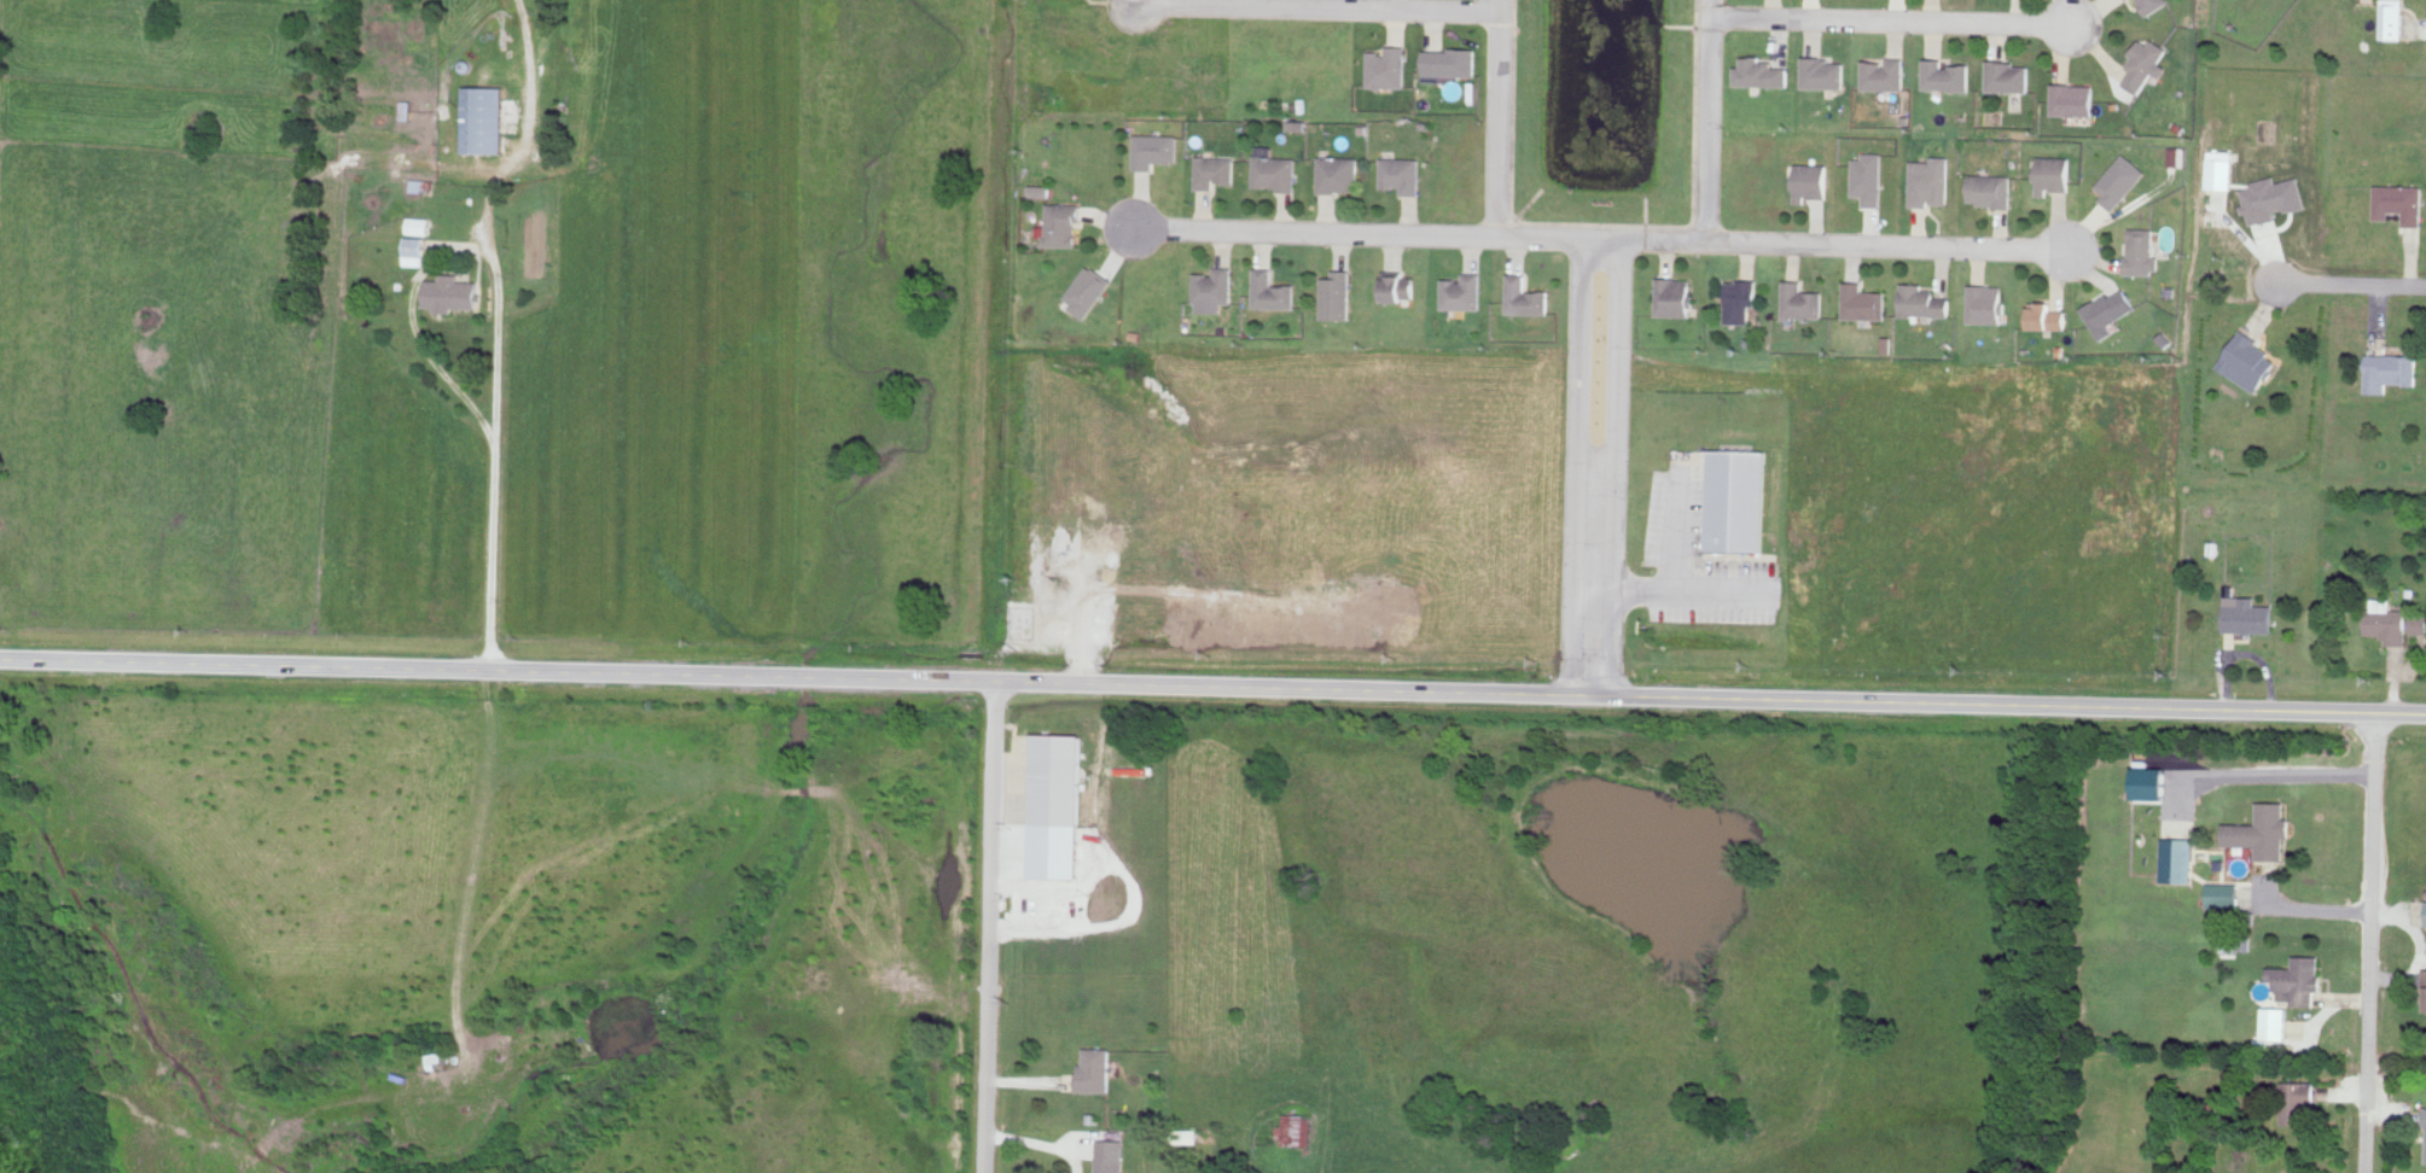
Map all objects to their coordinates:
building: (2154, 4)
road: (1317, 8)
building: (2392, 18)
road: (1887, 21)
building: (1450, 62)
building: (2146, 63)
building: (1389, 66)
building: (1758, 71)
building: (1822, 71)
building: (1884, 72)
building: (1945, 74)
building: (2008, 75)
building: (2073, 98)
building: (484, 117)
road: (1500, 118)
road: (1703, 121)
building: (1297, 123)
building: (1154, 148)
building: (2176, 154)
building: (2220, 168)
building: (1214, 169)
building: (1273, 171)
building: (1339, 173)
building: (1402, 173)
building: (2052, 173)
building: (1867, 176)
building: (1810, 179)
building: (2119, 179)
building: (1928, 180)
building: (1989, 188)
building: (1040, 189)
building: (2271, 195)
building: (2401, 200)
building: (1061, 223)
building: (419, 224)
road: (1372, 234)
road: (1839, 244)
building: (414, 250)
building: (2141, 250)
building: (1401, 285)
building: (1212, 286)
road: (2351, 287)
building: (1087, 288)
building: (1273, 290)
building: (452, 292)
building: (1459, 292)
building: (1338, 294)
building: (1524, 296)
building: (1672, 296)
building: (1739, 298)
building: (1799, 299)
building: (1921, 299)
building: (1862, 300)
building: (1984, 302)
building: (2108, 309)
building: (2047, 315)
road: (412, 334)
building: (2247, 360)
building: (2391, 369)
road: (1575, 467)
road: (1610, 467)
building: (1736, 498)
road: (488, 523)
road: (1671, 529)
railway: (971, 585)
road: (1689, 595)
building: (2248, 614)
building: (2387, 620)
building: (2419, 621)
road: (956, 679)
road: (2169, 710)
road: (2271, 776)
building: (2151, 782)
building: (1055, 804)
building: (2263, 830)
building: (2177, 858)
building: (2223, 893)
road: (2310, 912)
road: (991, 927)
road: (2370, 944)
building: (2299, 979)
building: (2275, 1021)
building: (1094, 1069)
building: (2298, 1101)
building: (1293, 1128)
building: (1109, 1155)
building: (2425, 1157)

